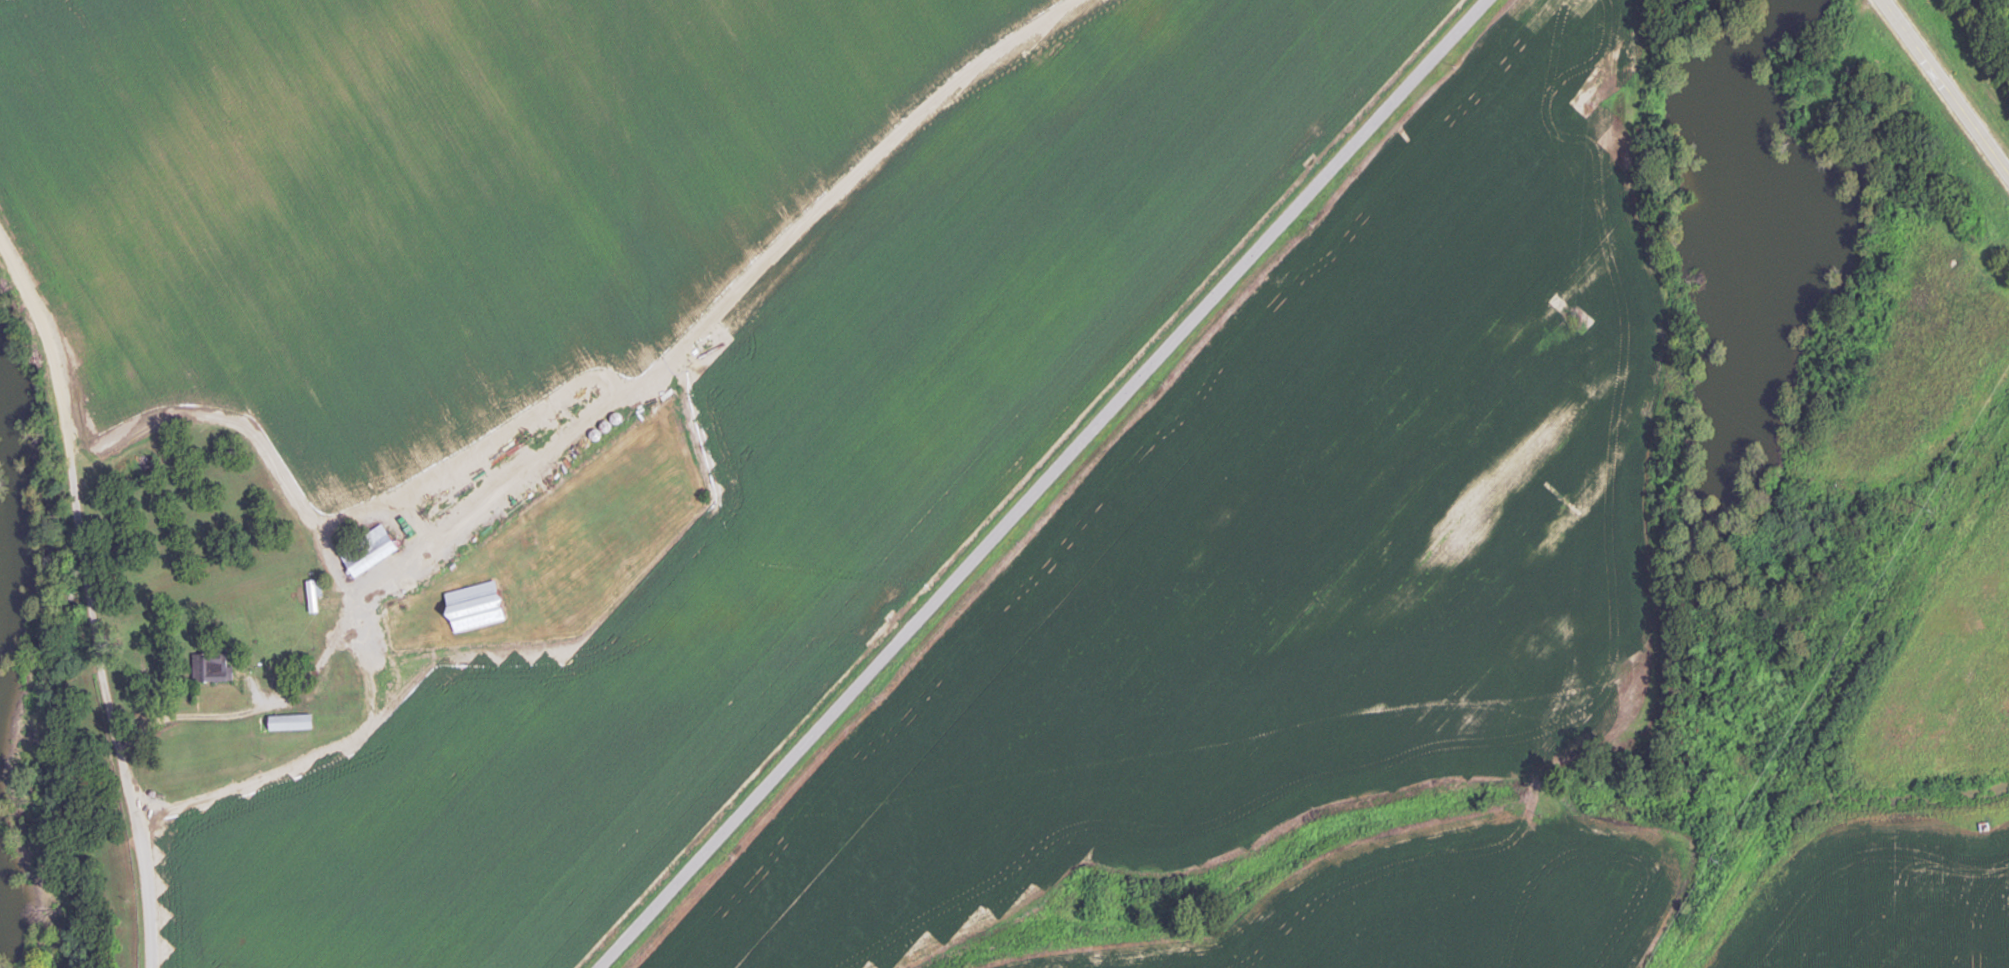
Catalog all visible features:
road: (1946, 85)
road: (611, 395)
road: (1040, 482)
building: (444, 502)
power tower: (1930, 507)
building: (369, 550)
road: (88, 602)
building: (476, 606)
road: (478, 658)
building: (210, 667)
road: (297, 680)
railway: (1841, 692)
building: (291, 722)
road: (1481, 817)
power tower: (1718, 860)

